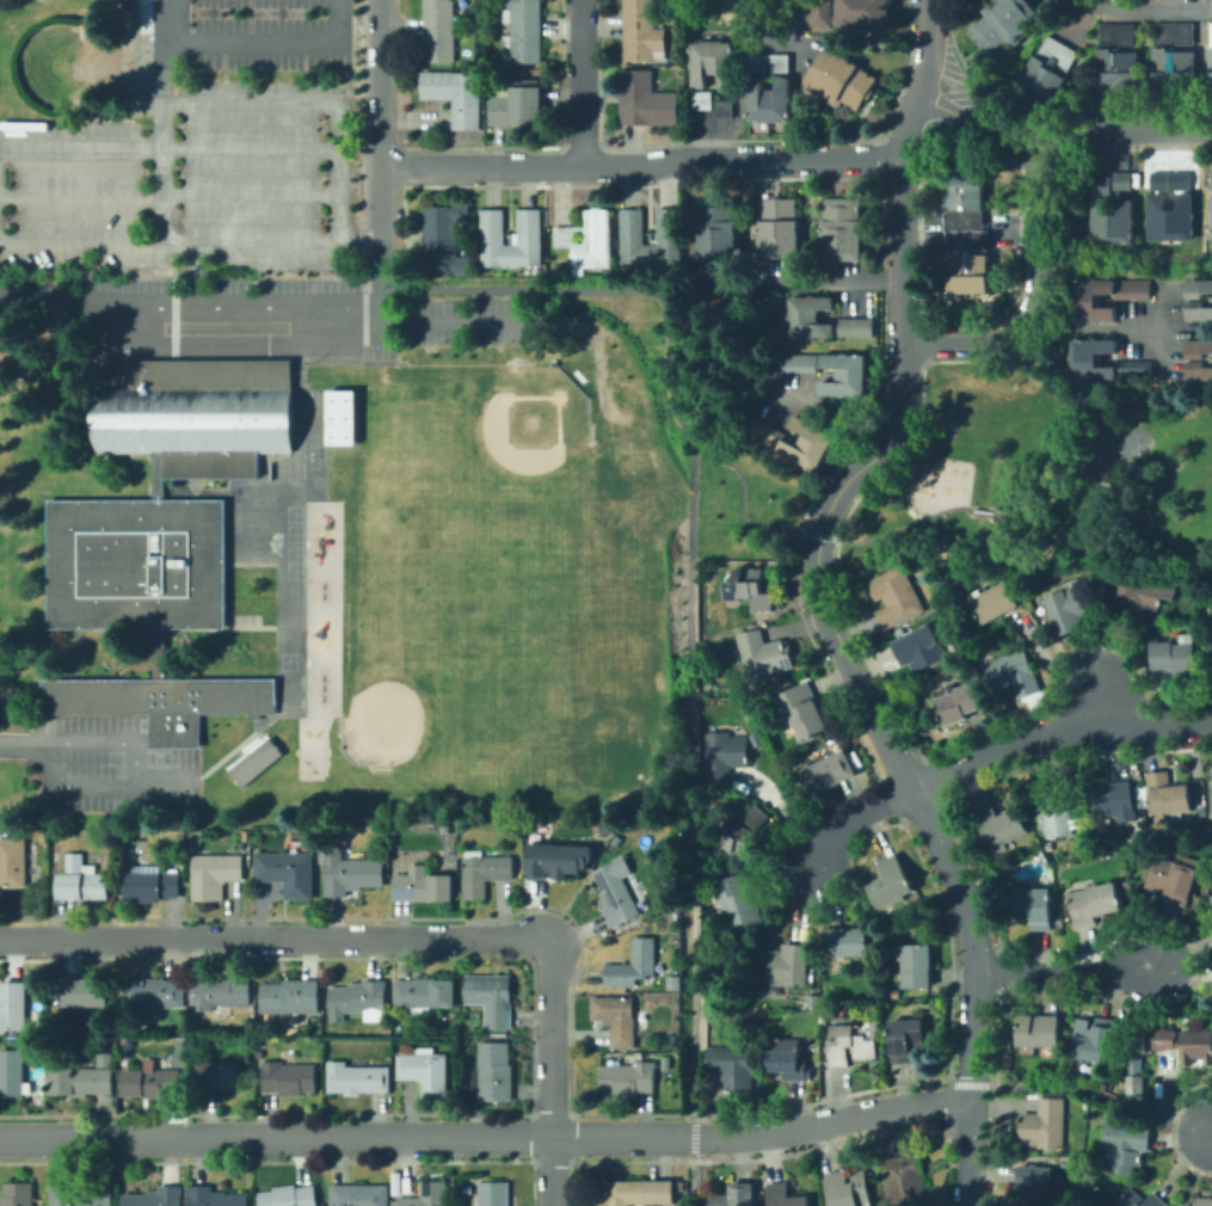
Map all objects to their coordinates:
road: (1148, 11)
building: (639, 12)
building: (522, 13)
building: (438, 14)
park: (737, 14)
building: (862, 16)
building: (1005, 24)
building: (1116, 35)
building: (1174, 35)
building: (1211, 35)
road: (796, 41)
road: (266, 42)
building: (642, 42)
building: (438, 44)
building: (524, 45)
park: (63, 60)
building: (1211, 62)
building: (713, 63)
building: (780, 63)
building: (759, 64)
building: (1173, 72)
building: (1046, 73)
building: (1116, 73)
building: (842, 79)
road: (585, 84)
building: (436, 86)
building: (466, 100)
building: (769, 100)
building: (646, 101)
building: (703, 101)
road: (319, 105)
building: (517, 106)
building: (724, 109)
road: (978, 123)
road: (1120, 133)
road: (170, 148)
road: (382, 150)
road: (642, 166)
building: (1210, 179)
building: (1122, 181)
building: (1159, 181)
building: (1181, 181)
building: (1101, 186)
road: (170, 196)
building: (1211, 216)
building: (1170, 220)
building: (1113, 222)
road: (164, 228)
building: (780, 229)
building: (842, 229)
building: (966, 229)
building: (716, 230)
building: (443, 239)
building: (633, 239)
building: (667, 239)
building: (493, 240)
building: (528, 240)
building: (589, 240)
road: (86, 244)
road: (842, 283)
building: (1198, 288)
road: (191, 302)
road: (1030, 303)
building: (1085, 303)
building: (1198, 310)
road: (667, 315)
road: (384, 318)
building: (810, 318)
road: (453, 319)
building: (856, 328)
road: (1093, 330)
road: (223, 334)
building: (1198, 347)
road: (899, 356)
building: (1087, 357)
building: (799, 364)
building: (1198, 371)
building: (106, 373)
building: (844, 376)
park: (310, 400)
road: (1090, 404)
road: (841, 406)
building: (197, 413)
building: (340, 417)
park: (732, 419)
building: (816, 442)
park: (312, 444)
park: (312, 466)
park: (420, 466)
park: (263, 469)
park: (277, 469)
park: (497, 470)
park: (1041, 473)
building: (155, 475)
park: (316, 482)
road: (219, 493)
park: (531, 509)
road: (980, 511)
park: (291, 512)
road: (905, 524)
park: (293, 531)
road: (819, 534)
road: (1097, 550)
park: (293, 553)
building: (134, 562)
road: (251, 562)
road: (278, 566)
park: (293, 570)
building: (1094, 582)
park: (533, 586)
building: (749, 589)
building: (1142, 595)
building: (897, 597)
park: (379, 598)
park: (448, 598)
building: (995, 602)
building: (1070, 609)
road: (191, 626)
park: (281, 635)
building: (1210, 645)
building: (923, 648)
building: (1211, 652)
building: (156, 653)
building: (762, 654)
building: (1175, 657)
park: (285, 660)
building: (1014, 673)
park: (398, 695)
park: (460, 699)
park: (529, 699)
building: (160, 701)
building: (960, 703)
road: (1103, 707)
building: (805, 710)
road: (1058, 736)
road: (250, 740)
road: (101, 742)
road: (16, 746)
building: (722, 755)
building: (253, 761)
building: (830, 773)
road: (165, 777)
road: (691, 777)
road: (74, 786)
building: (1168, 794)
building: (1114, 796)
building: (1142, 804)
building: (1058, 812)
building: (1211, 812)
building: (756, 817)
road: (785, 817)
road: (854, 819)
building: (1001, 826)
building: (740, 838)
building: (1130, 853)
building: (553, 859)
building: (18, 863)
building: (288, 872)
building: (350, 873)
building: (484, 873)
building: (214, 874)
building: (1174, 878)
building: (81, 880)
building: (890, 881)
road: (955, 881)
building: (1128, 882)
building: (150, 885)
building: (422, 886)
building: (1130, 891)
building: (616, 892)
building: (1211, 897)
building: (737, 903)
building: (1095, 903)
building: (1036, 907)
road: (278, 939)
building: (847, 942)
building: (878, 946)
building: (633, 965)
building: (917, 966)
building: (789, 967)
road: (1066, 970)
building: (673, 984)
building: (86, 992)
building: (219, 993)
building: (153, 995)
building: (424, 995)
building: (290, 997)
building: (491, 998)
building: (359, 999)
building: (13, 1004)
building: (824, 1017)
building: (616, 1019)
building: (1039, 1030)
building: (250, 1033)
building: (904, 1039)
building: (1096, 1039)
building: (851, 1042)
building: (1183, 1044)
building: (259, 1054)
building: (675, 1056)
building: (787, 1059)
building: (105, 1060)
building: (122, 1062)
building: (733, 1066)
building: (425, 1070)
building: (493, 1072)
road: (553, 1072)
building: (13, 1073)
building: (222, 1077)
building: (288, 1078)
building: (628, 1078)
building: (357, 1079)
building: (81, 1081)
building: (150, 1082)
road: (979, 1083)
building: (1138, 1084)
building: (1106, 1085)
road: (1102, 1094)
building: (1046, 1125)
road: (487, 1137)
road: (693, 1137)
building: (1128, 1145)
road: (971, 1155)
road: (1194, 1169)
building: (904, 1180)
road: (693, 1182)
building: (1035, 1185)
building: (467, 1186)
building: (850, 1188)
building: (638, 1193)
building: (18, 1194)
building: (492, 1194)
building: (81, 1195)
building: (359, 1195)
building: (426, 1195)
building: (785, 1195)
building: (155, 1196)
building: (215, 1196)
building: (289, 1196)
building: (733, 1196)
building: (1143, 1200)
building: (1205, 1201)

